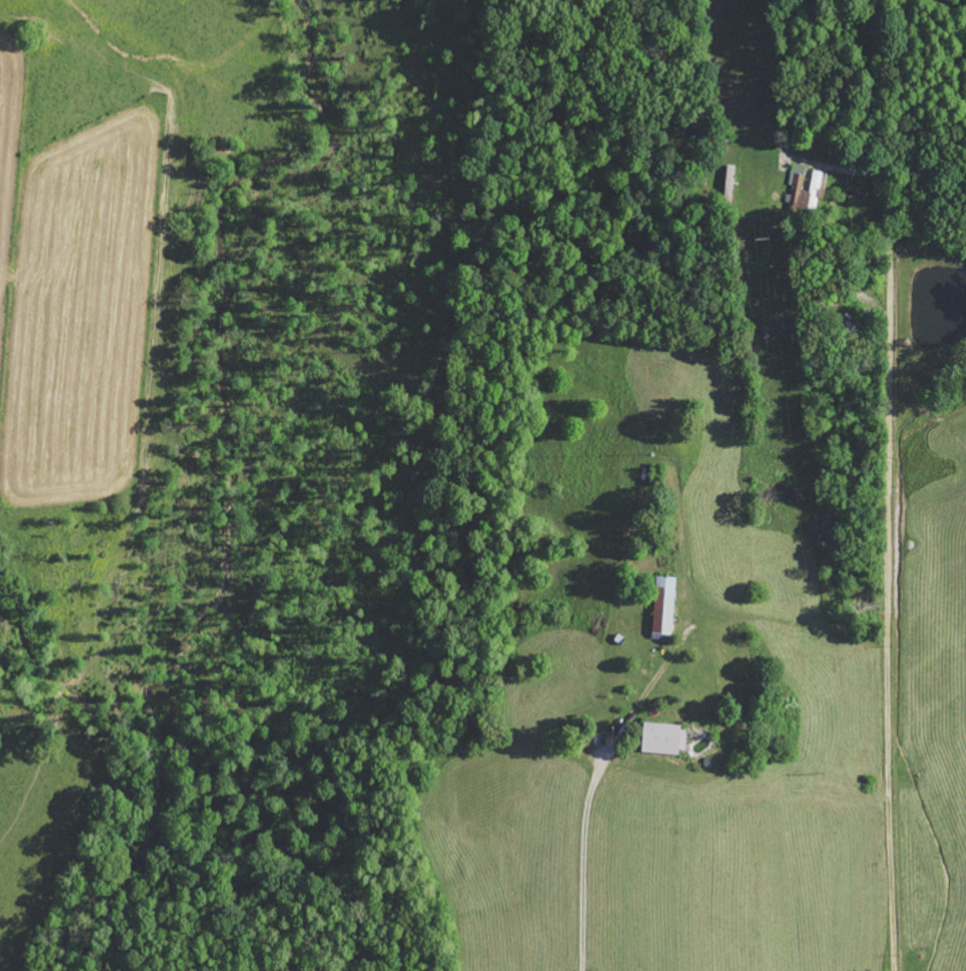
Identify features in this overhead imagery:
building: (807, 192)
road: (887, 569)
building: (665, 605)
building: (663, 739)

